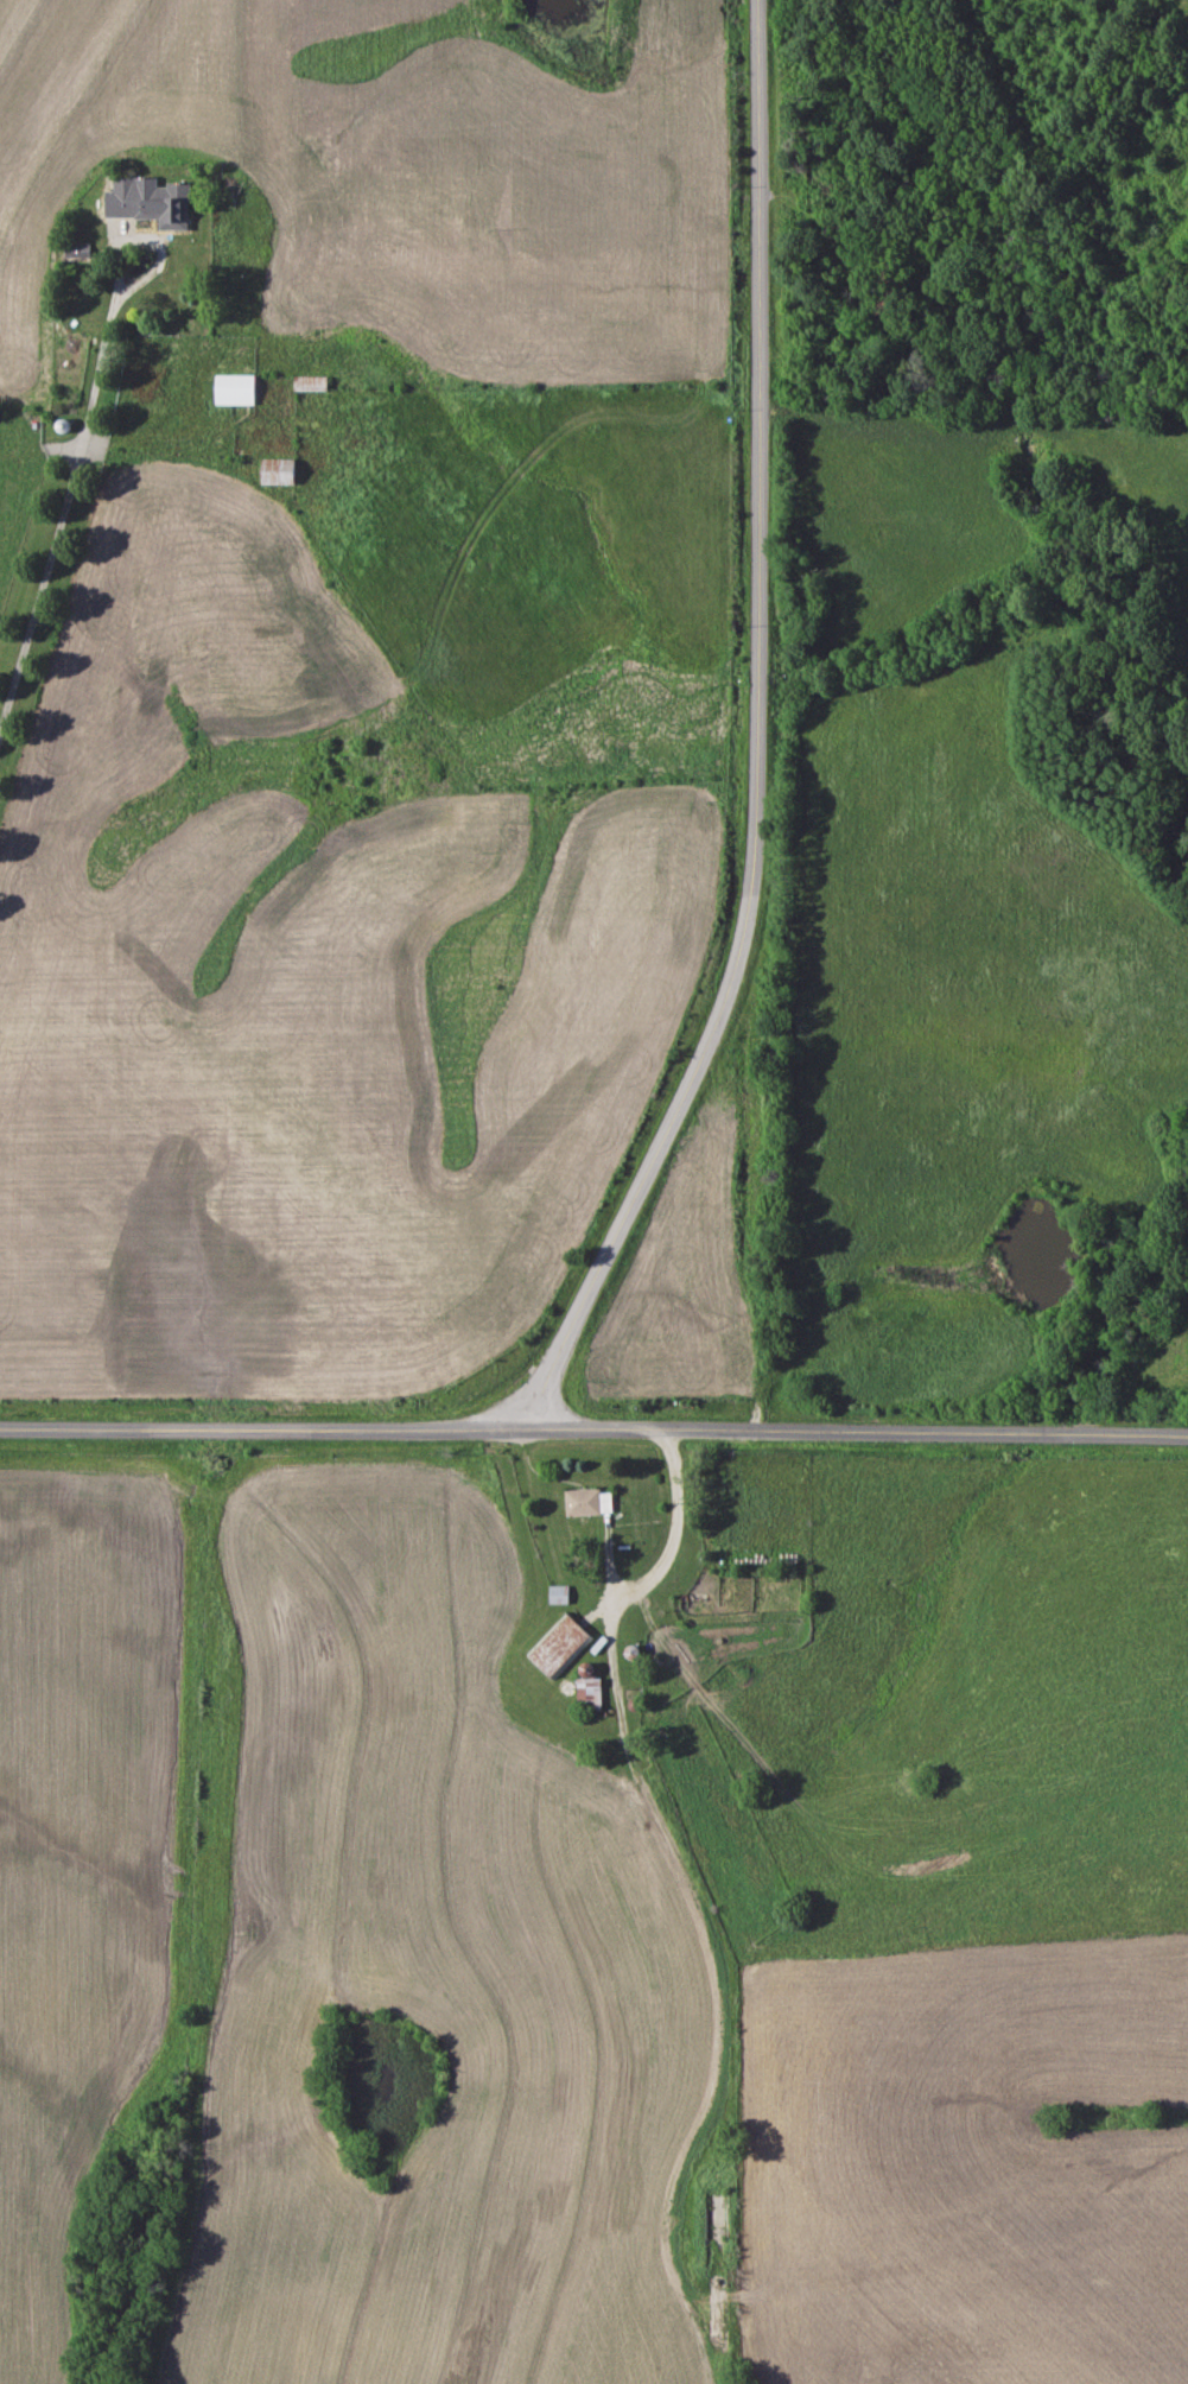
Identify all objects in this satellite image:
building: (151, 202)
building: (76, 251)
building: (309, 383)
building: (234, 389)
building: (277, 471)
road: (59, 506)
road: (723, 734)
road: (593, 1428)
building: (595, 1503)
building: (564, 1594)
building: (565, 1646)
building: (596, 1694)

